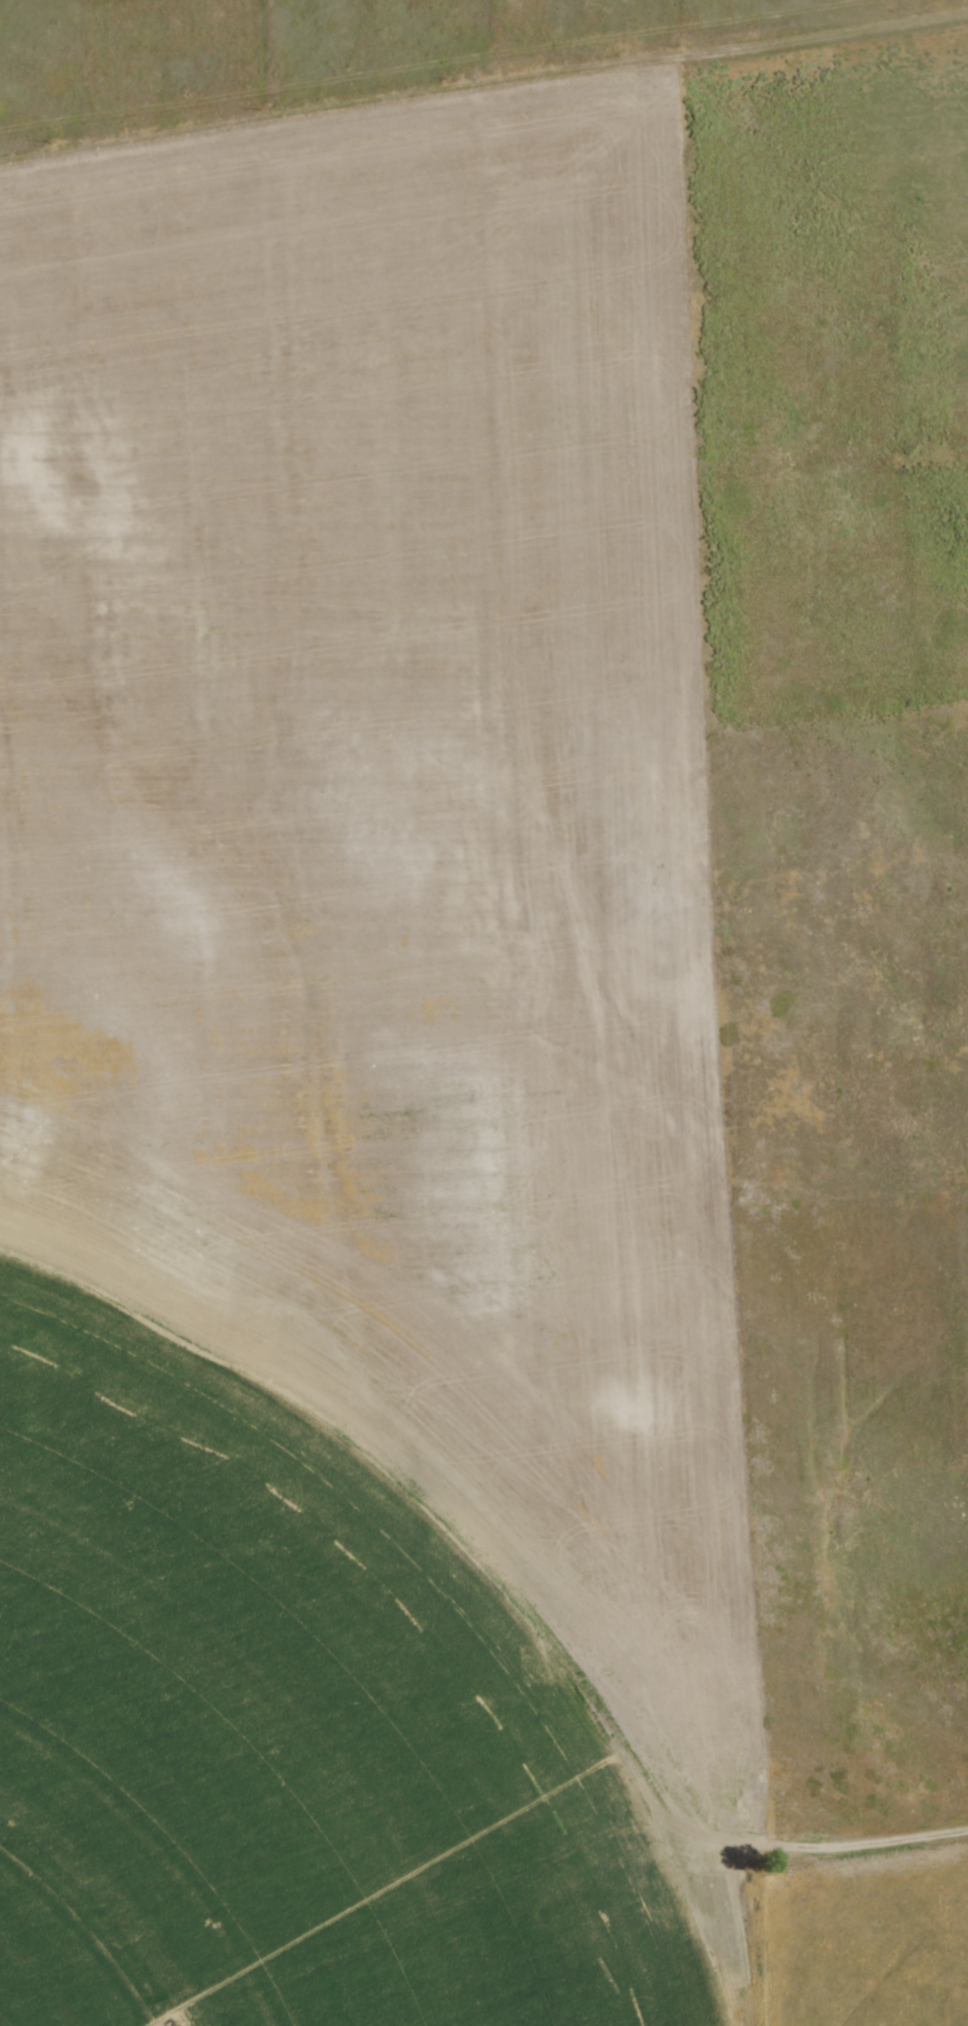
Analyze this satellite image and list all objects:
road: (483, 89)

